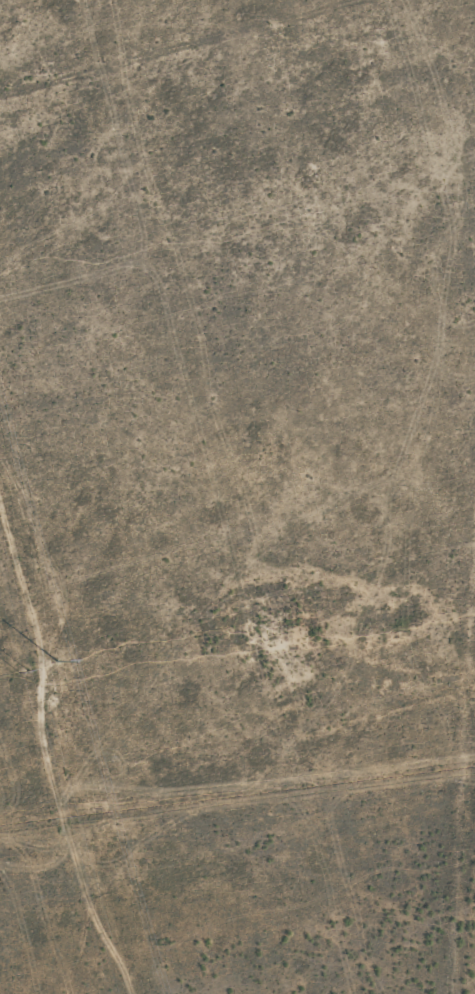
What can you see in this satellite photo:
power tower: (57, 658)
power tower: (22, 674)

